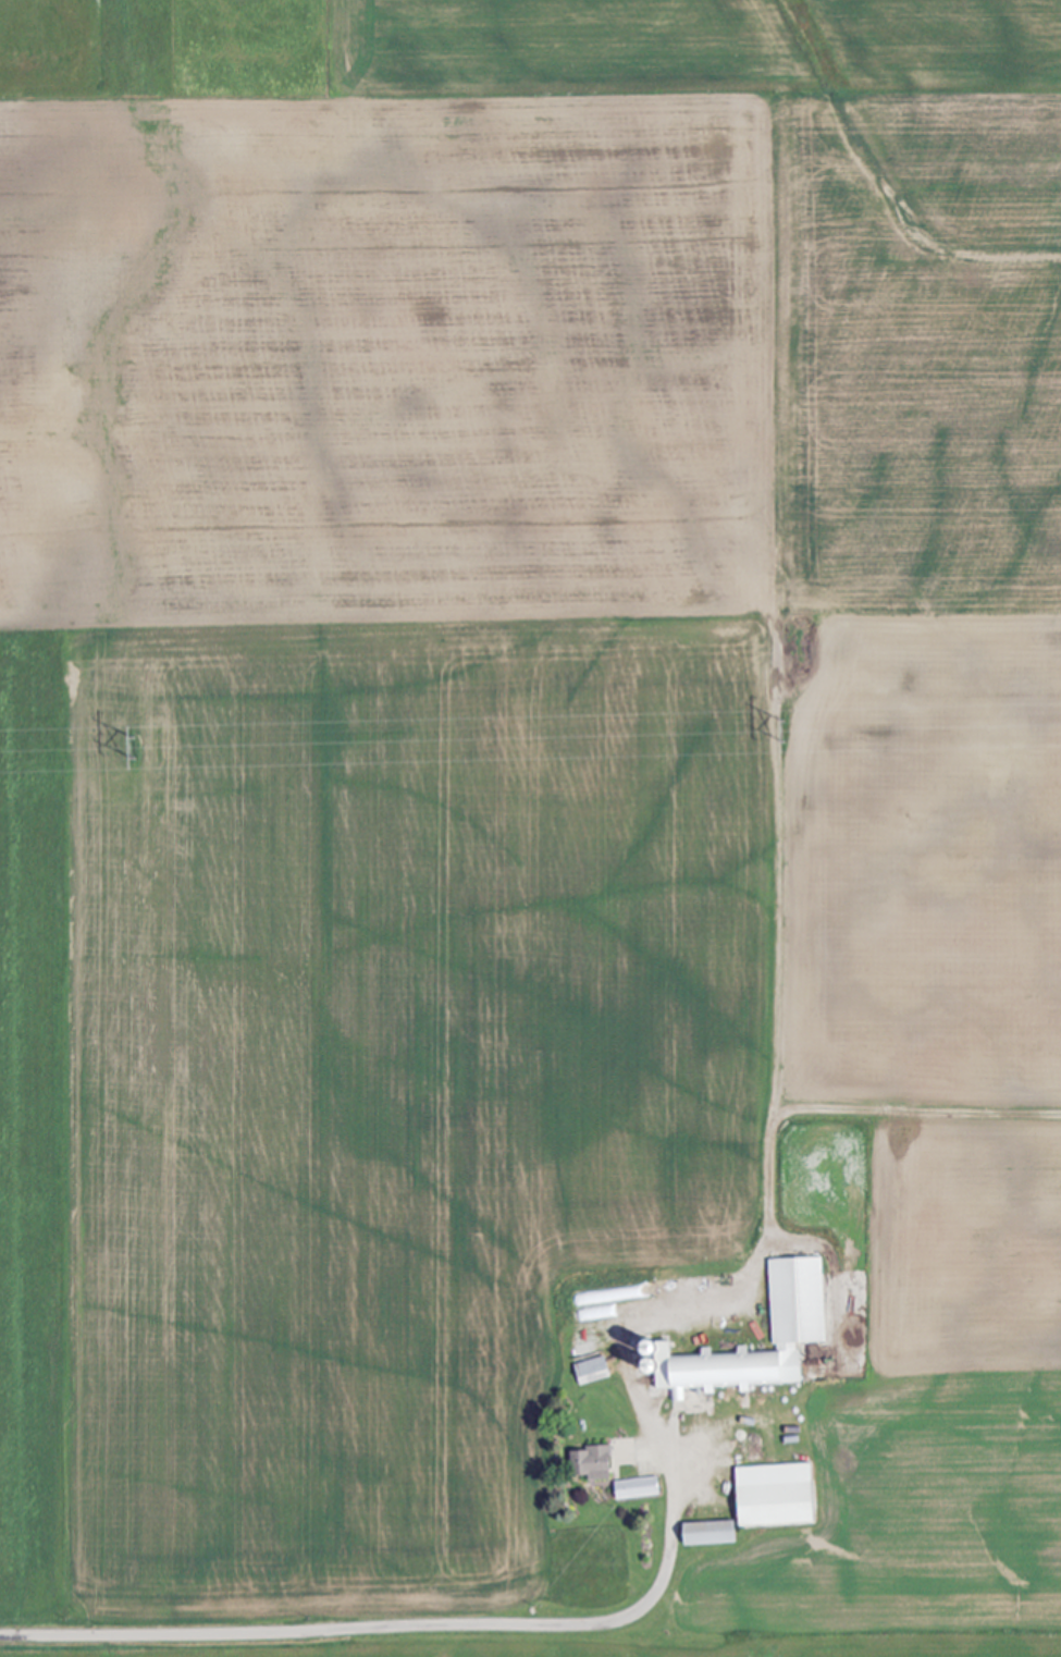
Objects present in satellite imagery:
power tower: (784, 731)
power tower: (140, 746)
building: (795, 1301)
building: (590, 1371)
building: (590, 1463)
building: (636, 1488)
building: (772, 1495)
building: (707, 1533)
road: (402, 1627)

